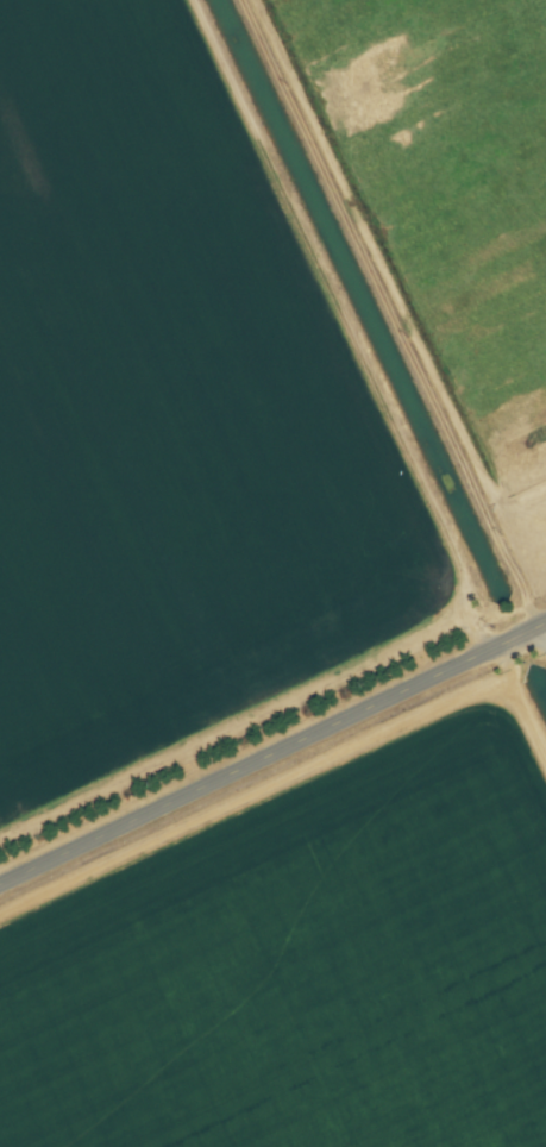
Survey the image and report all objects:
road: (272, 753)

